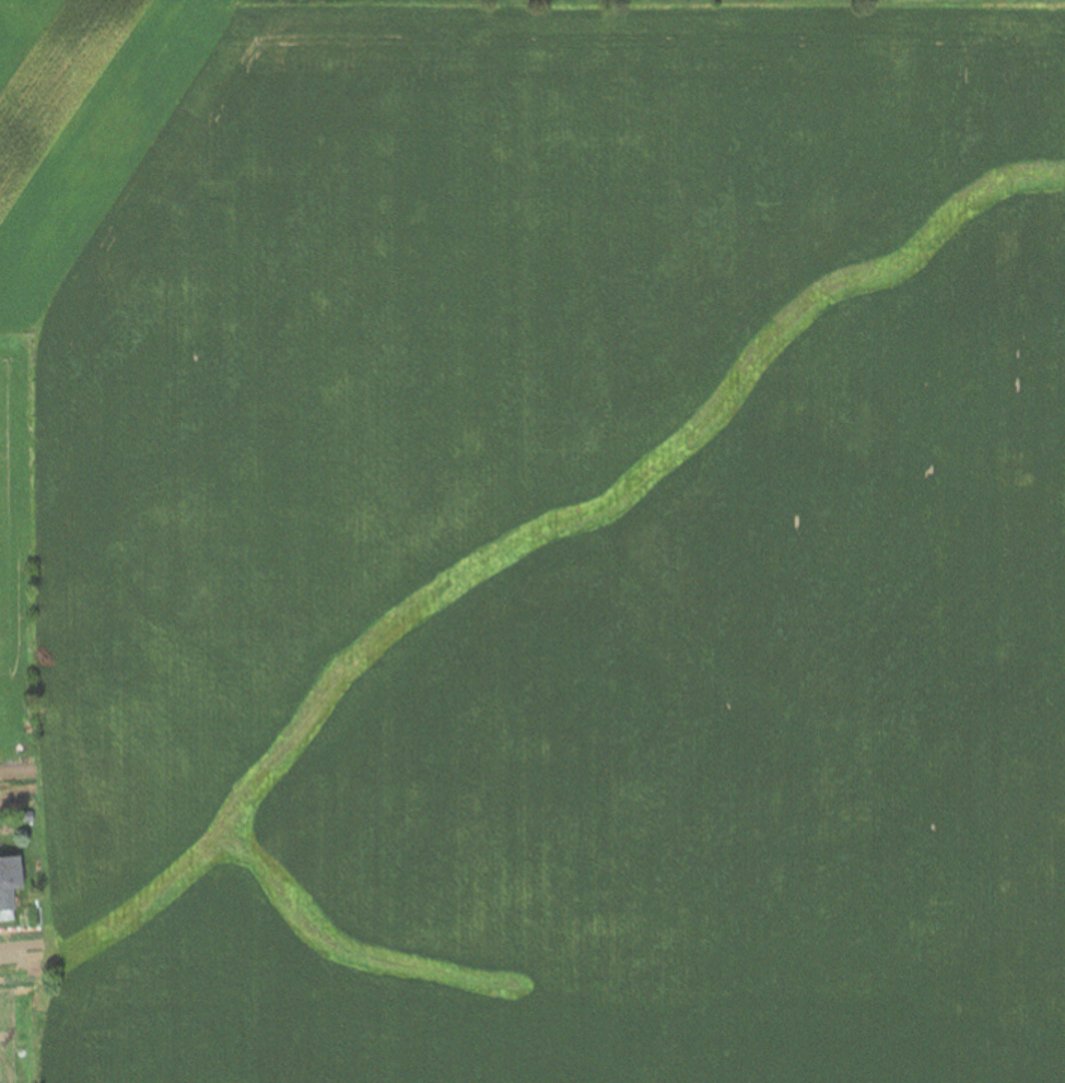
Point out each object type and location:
building: (11, 882)

